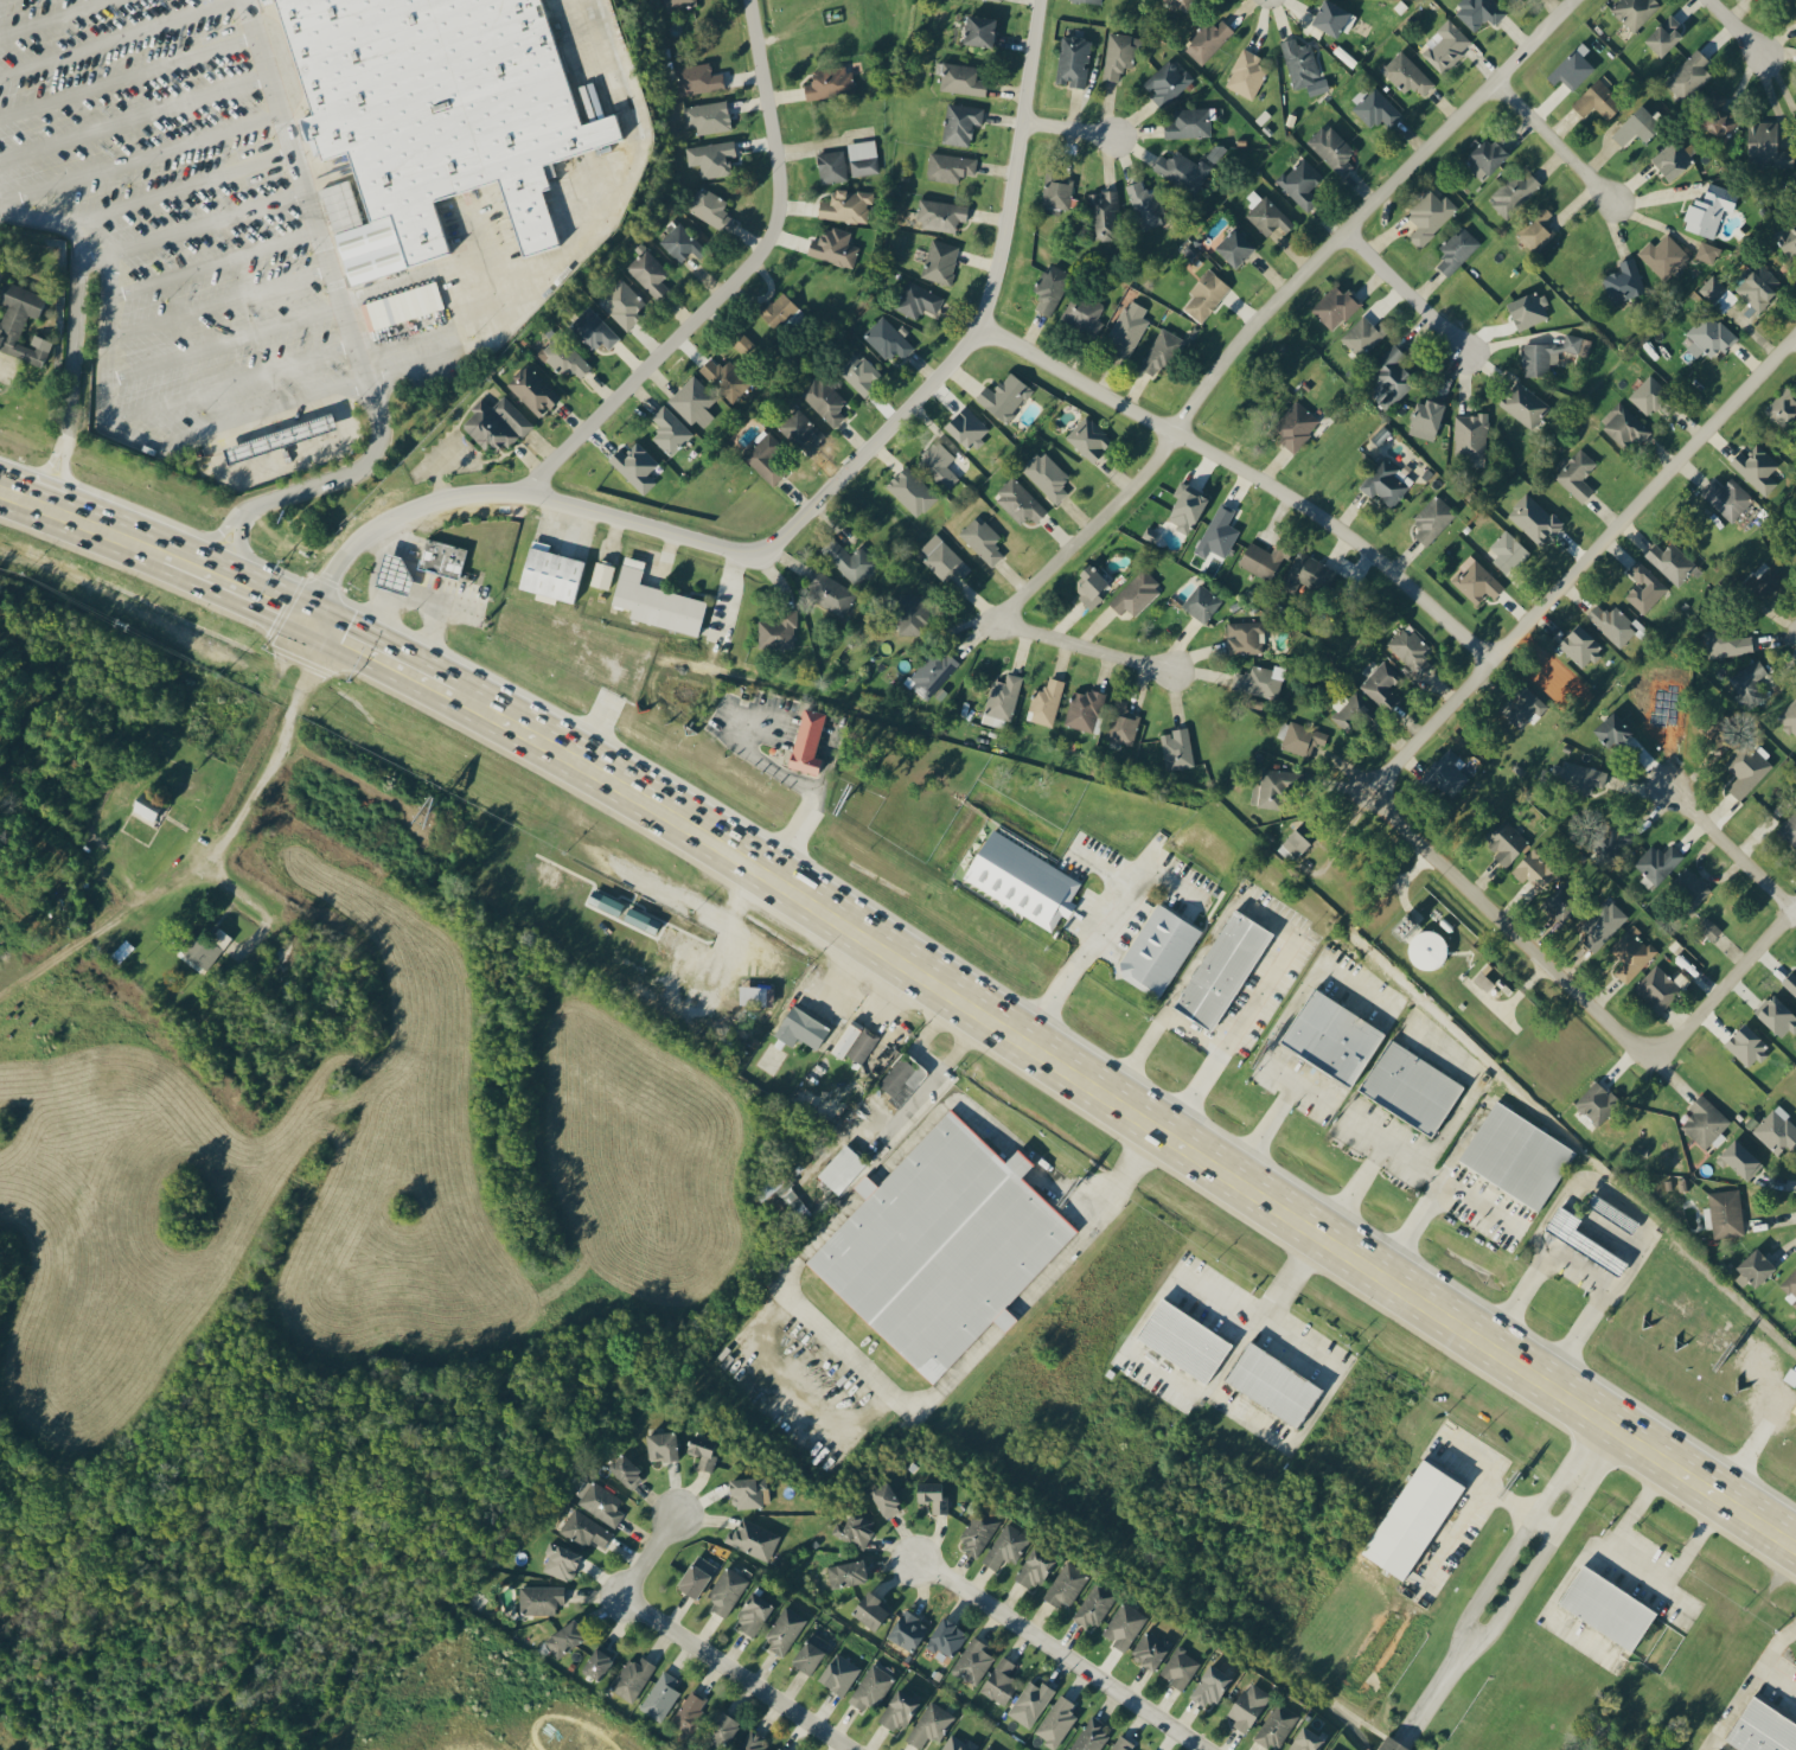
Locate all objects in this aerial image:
building: (999, 0)
building: (1092, 0)
building: (1511, 0)
building: (1180, 2)
building: (677, 4)
building: (1634, 11)
building: (1479, 12)
road: (53, 17)
building: (1332, 18)
park: (836, 21)
road: (1738, 25)
building: (979, 28)
building: (1664, 33)
road: (116, 37)
building: (1207, 39)
building: (1118, 55)
building: (1073, 59)
building: (1303, 66)
building: (1572, 66)
building: (1246, 74)
building: (1406, 74)
building: (1688, 75)
road: (122, 77)
building: (697, 78)
building: (961, 78)
building: (829, 81)
building: (1167, 82)
building: (1597, 100)
building: (1375, 108)
building: (1718, 115)
building: (707, 116)
road: (128, 117)
building: (427, 119)
building: (960, 122)
building: (1637, 126)
road: (1066, 128)
road: (1555, 136)
building: (1768, 143)
building: (1331, 147)
building: (1215, 152)
building: (862, 157)
building: (1487, 157)
building: (711, 158)
building: (1673, 158)
road: (135, 162)
building: (831, 166)
building: (950, 166)
building: (1183, 170)
building: (1300, 181)
parking lot: (307, 189)
road: (175, 190)
road: (296, 190)
building: (1057, 191)
building: (1514, 192)
road: (608, 197)
building: (1145, 204)
building: (845, 205)
building: (709, 207)
building: (1709, 209)
building: (1265, 212)
building: (940, 215)
building: (1104, 215)
building: (1430, 215)
road: (191, 225)
building: (1536, 229)
building: (1788, 238)
building: (680, 243)
building: (1234, 245)
building: (833, 247)
building: (1457, 249)
building: (1663, 256)
building: (940, 261)
road: (207, 263)
building: (647, 272)
road: (729, 281)
building: (1624, 281)
building: (1758, 286)
building: (1050, 288)
road: (1407, 289)
building: (1718, 293)
building: (1206, 294)
building: (916, 299)
road: (1272, 301)
building: (622, 304)
road: (216, 305)
building: (1335, 306)
building: (1528, 308)
building: (778, 309)
building: (1084, 311)
building: (413, 313)
building: (20, 322)
building: (1127, 327)
building: (593, 330)
building: (1363, 334)
building: (1708, 336)
building: (887, 338)
building: (741, 343)
road: (223, 346)
road: (338, 346)
building: (1161, 351)
building: (1551, 352)
building: (563, 356)
building: (858, 371)
building: (1392, 376)
building: (726, 378)
road: (70, 384)
building: (532, 389)
building: (1004, 396)
building: (1650, 396)
building: (691, 398)
building: (824, 400)
building: (1523, 403)
building: (1783, 408)
building: (1425, 419)
road: (104, 420)
building: (496, 423)
building: (1295, 424)
building: (1624, 424)
building: (795, 427)
building: (967, 427)
building: (669, 429)
building: (1470, 434)
building: (1088, 437)
building: (282, 439)
gas station: (282, 439)
building: (767, 458)
building: (939, 464)
road: (292, 465)
building: (635, 466)
road: (1245, 467)
building: (1756, 467)
building: (1046, 474)
building: (1577, 474)
building: (1385, 481)
road: (317, 490)
building: (910, 491)
road: (822, 492)
road: (6, 493)
building: (1727, 497)
building: (1020, 502)
building: (1185, 507)
road: (53, 511)
building: (1432, 518)
building: (1534, 519)
building: (1217, 531)
road: (115, 537)
building: (982, 539)
building: (1507, 551)
road: (1591, 554)
building: (440, 557)
building: (1261, 558)
building: (849, 560)
building: (945, 561)
building: (1672, 562)
building: (1305, 573)
building: (394, 574)
gas station: (394, 574)
building: (550, 574)
building: (601, 574)
road: (218, 580)
building: (1476, 580)
building: (1762, 580)
building: (1089, 585)
building: (1644, 587)
road: (724, 592)
building: (829, 593)
building: (1136, 593)
road: (312, 598)
road: (392, 598)
building: (656, 600)
building: (1201, 602)
building: (912, 614)
traffic signals: (300, 617)
road: (375, 622)
building: (1612, 624)
building: (776, 630)
building: (1245, 637)
road: (1084, 643)
building: (1727, 643)
building: (1580, 645)
road: (379, 657)
building: (931, 673)
building: (1260, 681)
building: (1747, 681)
building: (1380, 682)
building: (1003, 697)
building: (1044, 702)
building: (1523, 705)
building: (1084, 709)
building: (1353, 713)
building: (1789, 716)
building: (1123, 724)
building: (1612, 730)
building: (1302, 739)
building: (807, 741)
building: (1176, 748)
road: (271, 764)
building: (1747, 768)
building: (1447, 772)
building: (1580, 775)
road: (813, 786)
building: (1270, 788)
building: (143, 811)
building: (1790, 830)
building: (1298, 839)
building: (1613, 839)
building: (1506, 842)
road: (1733, 845)
building: (1658, 862)
building: (1535, 869)
building: (551, 879)
building: (1022, 880)
building: (1690, 886)
building: (605, 901)
building: (1561, 902)
road: (1503, 915)
building: (641, 920)
building: (1604, 921)
building: (1708, 928)
road: (1094, 935)
building: (204, 949)
building: (1158, 949)
building: (1427, 950)
building: (1631, 953)
building: (1222, 969)
building: (1484, 978)
building: (1790, 983)
building: (1657, 988)
road: (1725, 988)
building: (755, 995)
building: (1777, 1015)
building: (800, 1028)
road: (1188, 1032)
building: (1331, 1036)
building: (854, 1042)
building: (1746, 1045)
road: (1271, 1047)
building: (901, 1079)
building: (1411, 1087)
road: (1308, 1093)
building: (1597, 1103)
road: (905, 1111)
road: (1130, 1118)
road: (1445, 1122)
building: (1704, 1122)
building: (1777, 1131)
building: (1517, 1155)
building: (1740, 1160)
building: (842, 1169)
road: (1349, 1188)
road: (1100, 1195)
road: (1479, 1201)
building: (1612, 1212)
building: (1726, 1213)
road: (1420, 1218)
building: (1583, 1240)
building: (948, 1246)
road: (1634, 1247)
building: (1755, 1269)
road: (1578, 1271)
road: (1285, 1279)
building: (1790, 1288)
building: (1180, 1339)
building: (1270, 1382)
road: (1197, 1392)
road: (1768, 1416)
building: (661, 1444)
building: (702, 1449)
building: (625, 1469)
building: (749, 1490)
building: (933, 1494)
road: (1484, 1496)
building: (886, 1499)
building: (599, 1502)
road: (1526, 1505)
building: (1421, 1518)
building: (854, 1528)
building: (584, 1529)
building: (977, 1529)
building: (752, 1538)
road: (1520, 1538)
building: (1005, 1545)
road: (1543, 1553)
building: (560, 1560)
building: (1034, 1566)
road: (1631, 1571)
building: (846, 1572)
building: (696, 1575)
building: (1066, 1583)
building: (726, 1590)
building: (539, 1598)
road: (1674, 1598)
building: (1094, 1604)
building: (1613, 1605)
building: (870, 1609)
building: (753, 1612)
building: (1124, 1624)
building: (907, 1629)
building: (784, 1630)
building: (946, 1636)
building: (564, 1637)
road: (699, 1642)
building: (1150, 1648)
building: (811, 1652)
road: (1062, 1654)
building: (972, 1660)
road: (1760, 1660)
building: (597, 1662)
building: (1180, 1666)
building: (838, 1673)
building: (632, 1678)
building: (999, 1681)
building: (1210, 1684)
building: (870, 1686)
building: (660, 1695)
building: (1030, 1701)
building: (1247, 1705)
road: (1421, 1705)
road: (1730, 1707)
building: (899, 1710)
building: (689, 1711)
building: (1056, 1720)
building: (931, 1724)
building: (1276, 1725)
building: (1768, 1727)
building: (721, 1730)
building: (1091, 1735)
building: (1305, 1739)
building: (753, 1741)
building: (957, 1743)
building: (1121, 1743)
building: (1393, 1744)
building: (988, 1748)
building: (1330, 1748)
building: (779, 1749)

